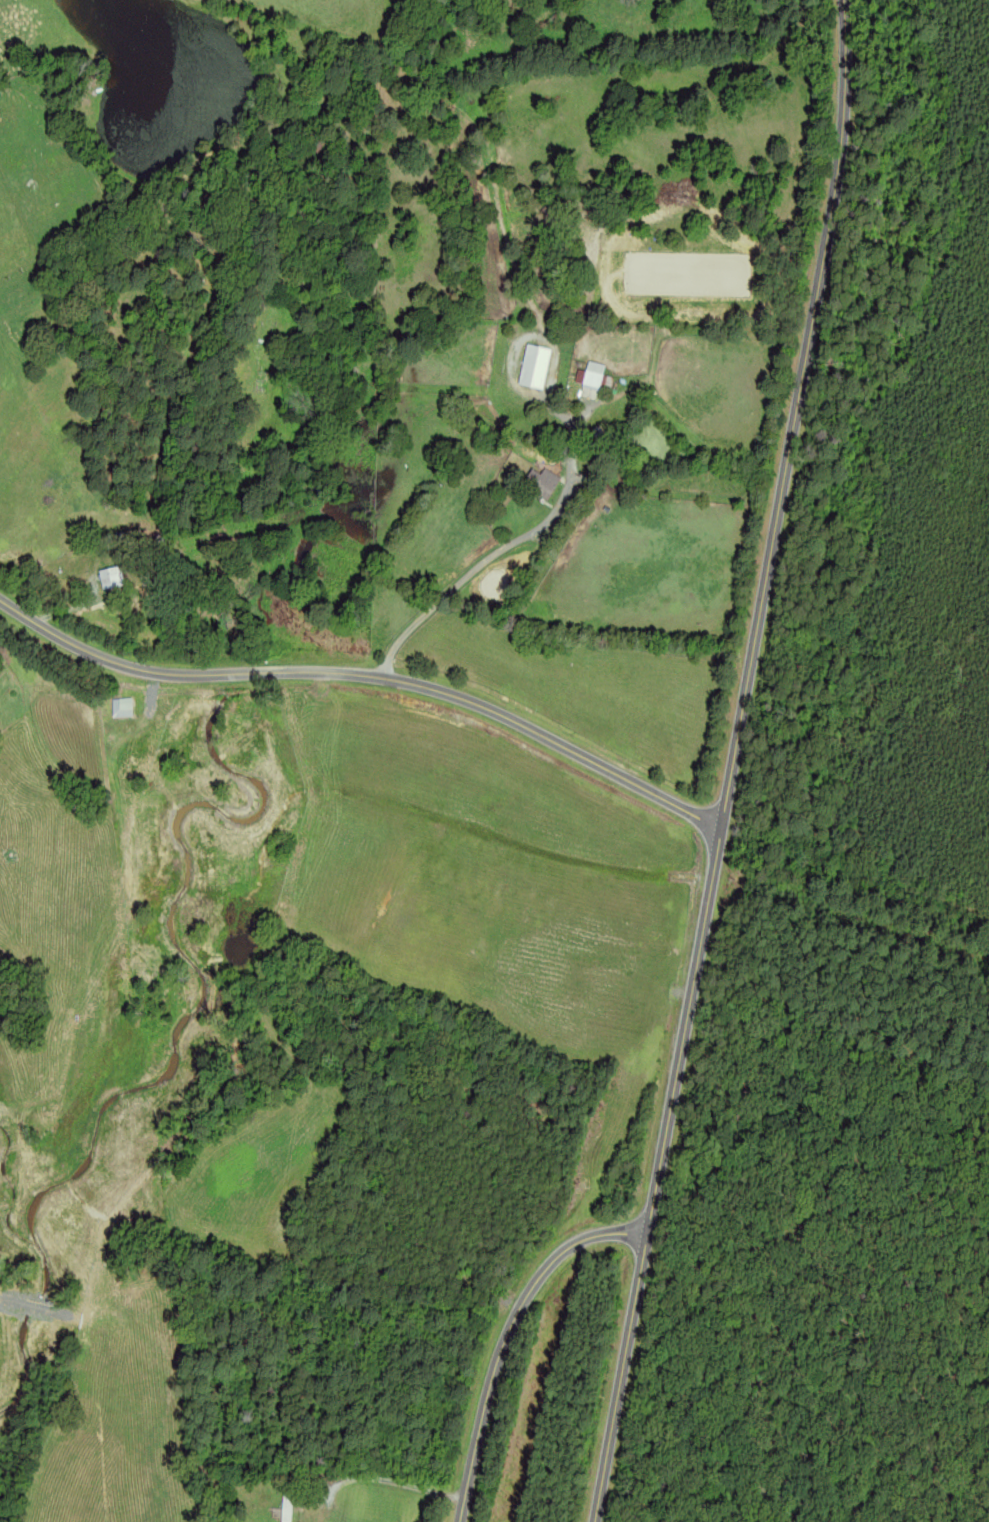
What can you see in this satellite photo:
building: (533, 367)
building: (592, 380)
building: (540, 483)
building: (127, 537)
road: (492, 551)
building: (109, 577)
road: (368, 674)
building: (119, 707)
road: (733, 762)
road: (506, 1335)
building: (285, 1502)

